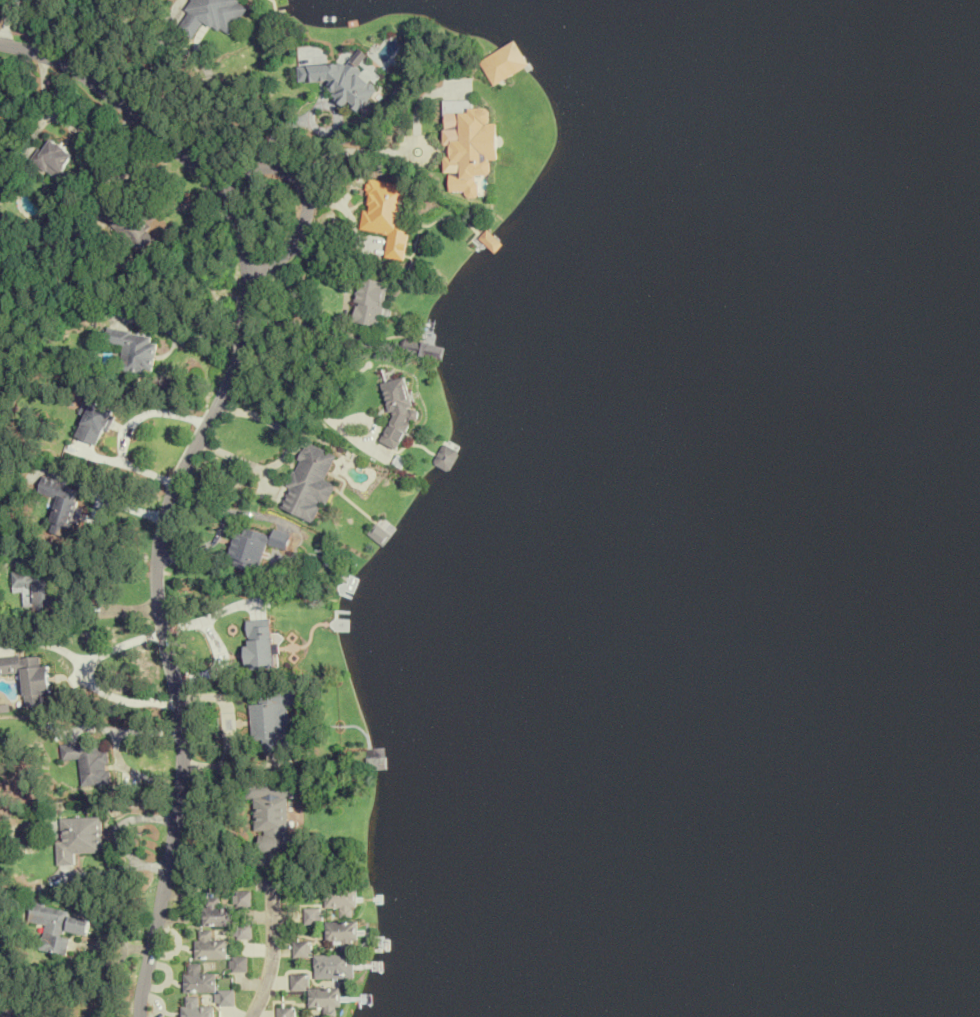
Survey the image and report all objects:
building: (212, 15)
road: (199, 61)
building: (505, 64)
building: (340, 84)
building: (469, 146)
road: (342, 154)
building: (51, 162)
road: (295, 204)
building: (388, 214)
building: (129, 226)
building: (491, 242)
building: (368, 301)
building: (422, 348)
building: (133, 349)
building: (397, 407)
building: (94, 422)
road: (126, 430)
road: (282, 454)
building: (446, 457)
road: (183, 471)
building: (308, 483)
building: (61, 501)
building: (380, 534)
building: (254, 546)
building: (35, 588)
building: (259, 643)
building: (28, 676)
road: (87, 682)
building: (273, 720)
building: (87, 760)
building: (274, 814)
building: (78, 838)
building: (241, 898)
building: (342, 899)
building: (215, 913)
building: (312, 916)
building: (52, 928)
building: (342, 930)
building: (242, 932)
building: (208, 946)
building: (301, 949)
building: (238, 964)
building: (333, 966)
road: (269, 970)
building: (198, 980)
building: (298, 982)
building: (325, 999)
building: (284, 1012)

